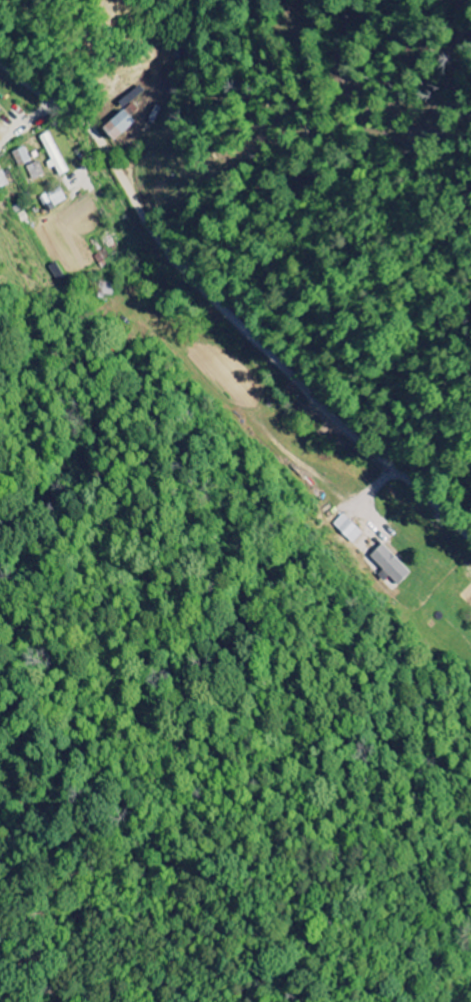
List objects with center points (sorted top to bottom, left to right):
building: (0, 109)
building: (115, 127)
building: (52, 155)
building: (20, 158)
building: (35, 171)
building: (3, 181)
building: (52, 200)
road: (222, 309)
building: (347, 529)
building: (388, 566)

